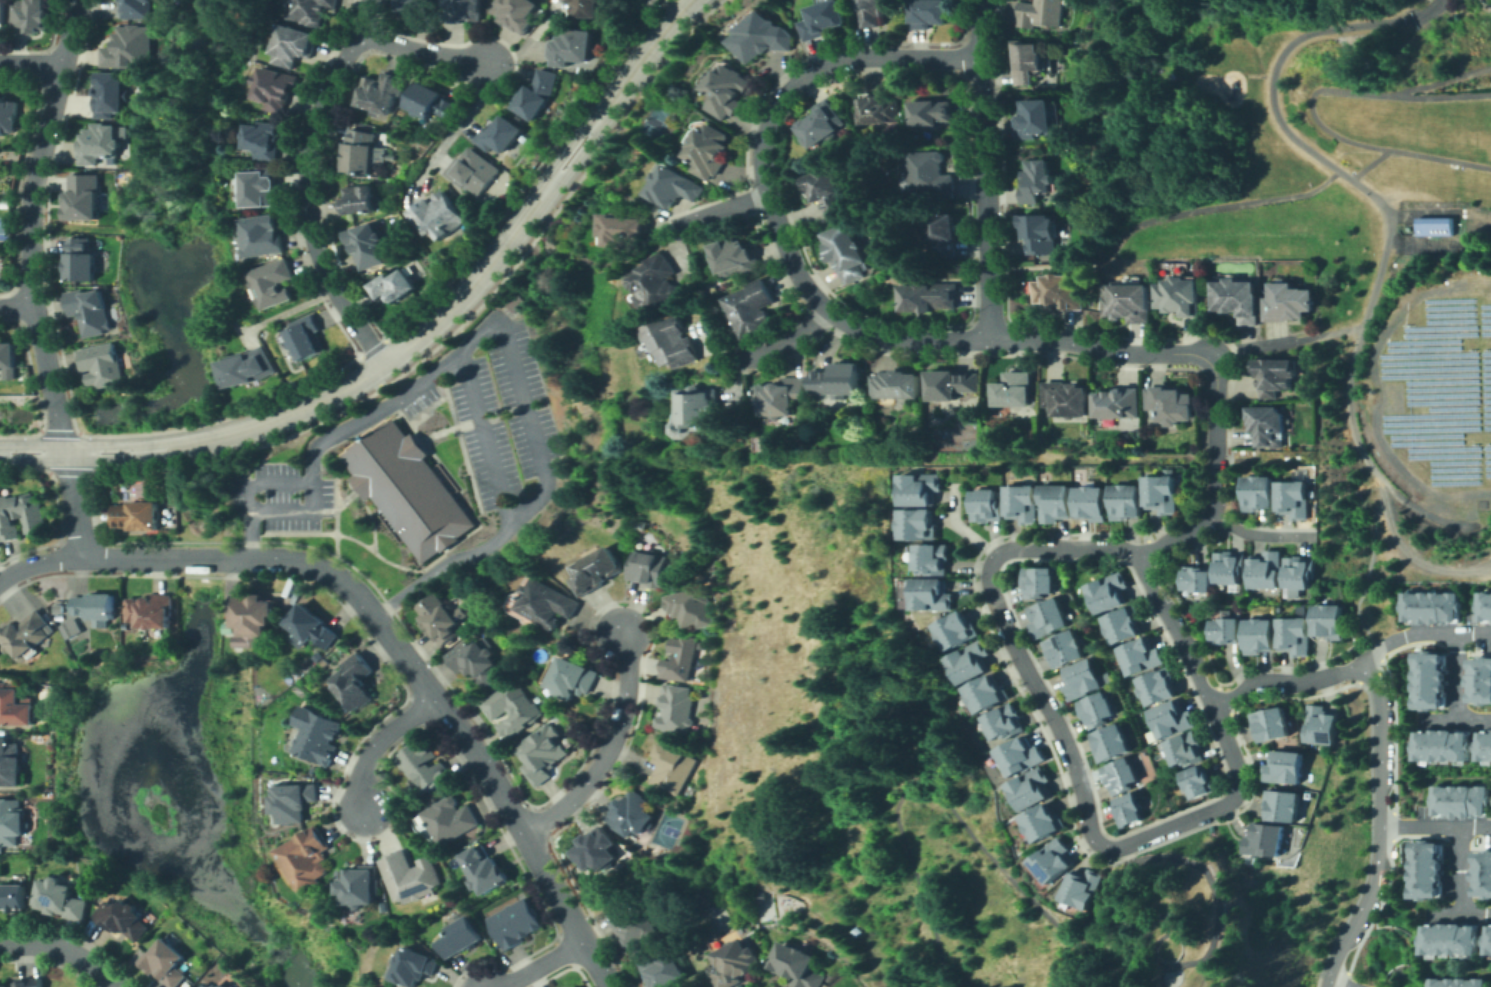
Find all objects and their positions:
building: (585, 8)
building: (138, 9)
building: (421, 9)
building: (311, 10)
building: (462, 10)
road: (1411, 10)
building: (875, 11)
building: (3, 13)
building: (518, 13)
building: (930, 13)
building: (1041, 13)
building: (31, 15)
building: (824, 19)
building: (762, 38)
building: (293, 45)
building: (571, 47)
building: (130, 48)
road: (422, 52)
building: (1028, 62)
road: (32, 65)
road: (1444, 80)
building: (275, 88)
building: (730, 91)
building: (382, 92)
building: (109, 94)
building: (538, 94)
building: (431, 101)
road: (1312, 108)
building: (881, 110)
building: (933, 113)
building: (8, 115)
road: (458, 119)
building: (1034, 119)
park: (660, 123)
building: (824, 123)
building: (500, 134)
building: (264, 140)
building: (101, 142)
building: (358, 151)
building: (711, 151)
road: (1368, 164)
road: (984, 169)
building: (404, 171)
building: (474, 171)
building: (930, 175)
building: (1036, 181)
road: (306, 184)
building: (676, 186)
building: (260, 187)
building: (828, 192)
building: (83, 197)
building: (359, 200)
road: (1384, 207)
road: (720, 211)
building: (439, 216)
road: (1159, 217)
building: (1432, 225)
park: (1333, 228)
building: (629, 230)
park: (6, 231)
building: (942, 233)
building: (1040, 233)
building: (262, 236)
building: (368, 244)
building: (844, 252)
building: (736, 257)
building: (81, 260)
road: (32, 278)
building: (657, 282)
building: (273, 283)
building: (394, 286)
road: (809, 289)
building: (1062, 292)
building: (1180, 295)
building: (930, 297)
building: (1238, 300)
solar farm: (1447, 300)
building: (1129, 301)
building: (1288, 302)
building: (517, 303)
solar farm: (1485, 306)
road: (16, 307)
solar farm: (1448, 307)
building: (751, 308)
building: (90, 310)
solar farm: (1485, 312)
solar farm: (1448, 313)
solar farm: (1485, 318)
solar farm: (1449, 321)
solar farm: (1485, 325)
solar farm: (1440, 327)
road: (498, 329)
solar farm: (1486, 332)
solar farm: (1440, 334)
building: (307, 338)
road: (414, 340)
solar farm: (1423, 341)
building: (672, 342)
road: (1283, 342)
road: (783, 344)
solar farm: (1423, 348)
solar farm: (1486, 353)
solar farm: (1425, 354)
building: (8, 355)
solar farm: (1485, 359)
solar farm: (1426, 361)
building: (102, 365)
solar farm: (1486, 366)
building: (247, 368)
solar farm: (1430, 368)
solar farm: (1486, 373)
solar farm: (1426, 374)
building: (1276, 376)
building: (839, 380)
solar farm: (1486, 380)
solar farm: (1441, 381)
building: (952, 384)
building: (899, 385)
solar farm: (1486, 386)
solar farm: (1441, 388)
building: (1016, 390)
building: (1438, 390)
solar farm: (1486, 393)
solar farm: (1441, 395)
building: (781, 396)
building: (1067, 398)
solar farm: (1486, 400)
solar farm: (1442, 401)
building: (1118, 403)
building: (1171, 405)
solar farm: (1486, 406)
solar farm: (1452, 408)
building: (698, 411)
solar farm: (1487, 413)
solar farm: (1427, 415)
solar farm: (1487, 420)
solar farm: (1432, 422)
building: (1268, 426)
solar farm: (1487, 427)
solar farm: (1428, 428)
solar farm: (1424, 435)
parking lot: (484, 436)
building: (1128, 438)
road: (486, 439)
solar farm: (1426, 442)
solar farm: (1487, 447)
solar farm: (1443, 449)
solar farm: (1487, 454)
solar farm: (1443, 455)
solar farm: (1487, 460)
solar farm: (1453, 461)
solar farm: (1487, 467)
solar farm: (1453, 468)
solar farm: (1488, 473)
solar farm: (1453, 475)
road: (1216, 480)
solar farm: (1452, 482)
building: (922, 488)
building: (408, 489)
building: (1260, 493)
building: (1164, 494)
building: (1295, 499)
building: (1128, 502)
building: (1023, 503)
building: (1057, 503)
building: (1093, 503)
building: (986, 505)
road: (296, 512)
building: (21, 515)
building: (138, 515)
building: (920, 524)
road: (1260, 536)
building: (934, 558)
building: (1230, 566)
building: (651, 569)
building: (1266, 570)
building: (597, 571)
building: (1300, 572)
road: (1367, 575)
building: (1197, 579)
building: (1040, 581)
building: (1110, 592)
building: (934, 595)
building: (549, 603)
building: (693, 607)
building: (1433, 607)
building: (1485, 607)
building: (90, 608)
building: (151, 611)
building: (441, 618)
building: (1049, 618)
building: (252, 619)
building: (1329, 621)
building: (1125, 624)
building: (126, 626)
building: (312, 626)
building: (70, 629)
building: (1226, 630)
road: (387, 631)
building: (958, 631)
road: (1475, 633)
building: (25, 635)
building: (1260, 636)
building: (1295, 636)
road: (1407, 636)
building: (1066, 649)
building: (1142, 656)
building: (682, 658)
building: (477, 662)
building: (972, 663)
building: (574, 678)
building: (1084, 679)
building: (1481, 681)
building: (355, 682)
building: (1430, 682)
road: (1286, 684)
building: (1160, 686)
road: (1459, 692)
building: (989, 693)
building: (14, 706)
building: (677, 707)
building: (513, 709)
building: (1098, 709)
building: (1173, 719)
road: (1438, 720)
building: (1007, 723)
building: (1272, 723)
building: (1322, 725)
building: (318, 735)
road: (382, 743)
building: (1112, 743)
building: (1445, 746)
building: (1487, 746)
road: (610, 749)
building: (1187, 750)
building: (542, 753)
building: (1022, 756)
building: (10, 763)
building: (422, 766)
building: (673, 768)
building: (1285, 769)
building: (1122, 775)
building: (1200, 782)
building: (1033, 789)
building: (294, 801)
building: (1462, 802)
building: (1285, 806)
building: (1131, 809)
building: (632, 813)
road: (1212, 813)
building: (450, 820)
building: (12, 822)
building: (1045, 823)
road: (1474, 824)
road: (1419, 825)
road: (1381, 828)
building: (1269, 840)
building: (597, 849)
building: (306, 858)
building: (1056, 861)
building: (104, 867)
building: (485, 869)
building: (1426, 870)
building: (1483, 875)
building: (410, 876)
road: (918, 883)
road: (1457, 883)
building: (359, 885)
building: (1087, 888)
building: (761, 894)
road: (1235, 895)
building: (14, 898)
road: (1031, 899)
building: (61, 900)
building: (747, 903)
building: (384, 905)
road: (1442, 911)
building: (123, 919)
building: (517, 923)
building: (636, 927)
building: (460, 937)
building: (1453, 940)
road: (1180, 941)
building: (1489, 943)
road: (65, 949)
park: (1390, 955)
building: (166, 963)
building: (736, 963)
road: (543, 964)
building: (797, 965)
building: (414, 967)
building: (663, 971)
building: (30, 982)
building: (1458, 983)
road: (1337, 984)
building: (5, 986)
building: (206, 986)
building: (218, 986)
building: (225, 986)
building: (574, 986)

